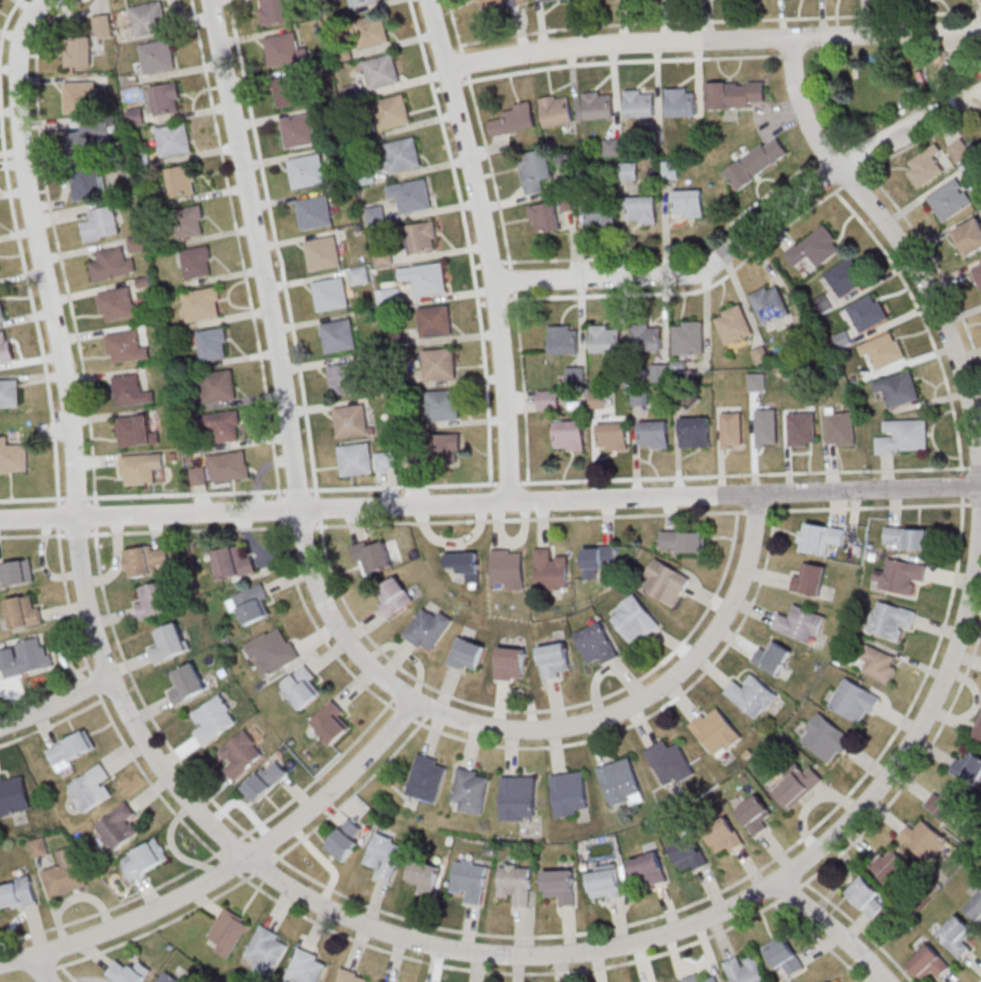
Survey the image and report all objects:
building: (554, 0)
building: (359, 2)
building: (499, 5)
road: (979, 11)
building: (272, 12)
building: (148, 19)
road: (6, 20)
road: (717, 20)
road: (454, 25)
building: (102, 26)
building: (369, 31)
road: (712, 42)
building: (283, 50)
building: (78, 51)
building: (341, 53)
road: (786, 54)
building: (157, 56)
road: (623, 61)
road: (464, 62)
building: (381, 71)
building: (289, 90)
building: (82, 94)
building: (736, 94)
building: (163, 98)
building: (681, 101)
building: (639, 103)
building: (598, 105)
building: (556, 110)
building: (392, 112)
building: (135, 116)
building: (513, 120)
road: (960, 120)
building: (298, 131)
building: (89, 138)
building: (174, 139)
building: (612, 147)
building: (959, 150)
building: (402, 155)
road: (819, 155)
building: (756, 162)
building: (925, 167)
building: (535, 170)
building: (305, 171)
building: (365, 175)
building: (182, 180)
building: (86, 183)
building: (412, 197)
building: (950, 199)
building: (688, 203)
building: (642, 209)
building: (313, 213)
building: (375, 215)
building: (544, 217)
building: (601, 218)
building: (190, 221)
building: (101, 223)
road: (749, 232)
building: (422, 237)
building: (969, 237)
building: (136, 244)
building: (815, 247)
road: (239, 248)
road: (469, 248)
road: (487, 248)
road: (258, 254)
building: (321, 254)
road: (38, 255)
road: (676, 255)
building: (382, 256)
road: (496, 260)
building: (198, 262)
road: (739, 263)
building: (112, 264)
building: (977, 273)
building: (359, 276)
building: (845, 277)
building: (427, 280)
road: (511, 280)
building: (329, 294)
road: (501, 299)
building: (202, 303)
building: (770, 303)
building: (116, 304)
road: (32, 308)
building: (1, 310)
building: (868, 312)
building: (434, 322)
building: (734, 324)
building: (646, 336)
building: (338, 337)
building: (688, 337)
building: (605, 338)
building: (564, 339)
building: (843, 339)
building: (213, 343)
building: (5, 347)
building: (125, 347)
building: (884, 349)
building: (438, 365)
building: (660, 372)
building: (344, 379)
building: (756, 381)
building: (217, 386)
building: (898, 388)
building: (131, 390)
building: (9, 392)
building: (639, 397)
building: (597, 399)
building: (547, 400)
building: (442, 406)
building: (350, 421)
building: (224, 426)
building: (767, 427)
building: (841, 427)
building: (803, 429)
building: (731, 430)
building: (136, 431)
building: (694, 432)
building: (653, 434)
building: (569, 435)
building: (612, 436)
building: (904, 436)
building: (447, 446)
building: (13, 457)
building: (355, 460)
building: (385, 461)
building: (229, 466)
building: (141, 468)
building: (198, 475)
road: (490, 483)
road: (528, 496)
road: (490, 503)
road: (410, 522)
building: (821, 538)
building: (907, 538)
building: (683, 541)
building: (372, 556)
building: (598, 559)
building: (148, 560)
building: (234, 562)
building: (466, 565)
building: (509, 568)
building: (550, 568)
road: (331, 569)
building: (17, 572)
building: (900, 575)
building: (810, 579)
building: (665, 582)
building: (395, 596)
building: (152, 599)
building: (251, 604)
building: (25, 611)
building: (635, 619)
building: (891, 619)
building: (800, 622)
building: (429, 628)
building: (169, 641)
building: (596, 644)
building: (272, 651)
building: (467, 654)
building: (773, 657)
building: (29, 658)
building: (555, 660)
building: (510, 663)
building: (879, 663)
building: (187, 684)
building: (303, 687)
road: (396, 695)
building: (752, 695)
building: (855, 701)
road: (55, 703)
road: (428, 714)
building: (214, 719)
building: (332, 723)
building: (978, 729)
road: (535, 731)
building: (716, 731)
building: (826, 738)
road: (579, 742)
building: (72, 749)
building: (241, 754)
building: (670, 763)
building: (969, 767)
building: (427, 778)
building: (266, 780)
building: (620, 782)
building: (798, 785)
building: (91, 788)
building: (471, 789)
building: (570, 794)
building: (13, 795)
building: (518, 798)
building: (947, 803)
building: (755, 814)
building: (119, 826)
building: (725, 836)
building: (346, 839)
building: (925, 839)
building: (39, 847)
road: (217, 853)
building: (689, 854)
building: (385, 855)
building: (145, 858)
building: (891, 865)
building: (649, 868)
road: (229, 869)
road: (258, 870)
building: (65, 873)
building: (424, 876)
building: (470, 880)
building: (604, 881)
building: (515, 883)
road: (778, 883)
building: (560, 886)
building: (18, 893)
building: (867, 895)
building: (975, 907)
road: (437, 926)
building: (229, 931)
road: (833, 931)
building: (956, 936)
building: (267, 950)
building: (783, 955)
building: (929, 963)
building: (307, 967)
road: (41, 968)
road: (49, 969)
building: (745, 969)
building: (130, 971)
road: (68, 973)
building: (351, 976)
building: (169, 978)
building: (699, 978)
road: (980, 980)
building: (380, 981)

